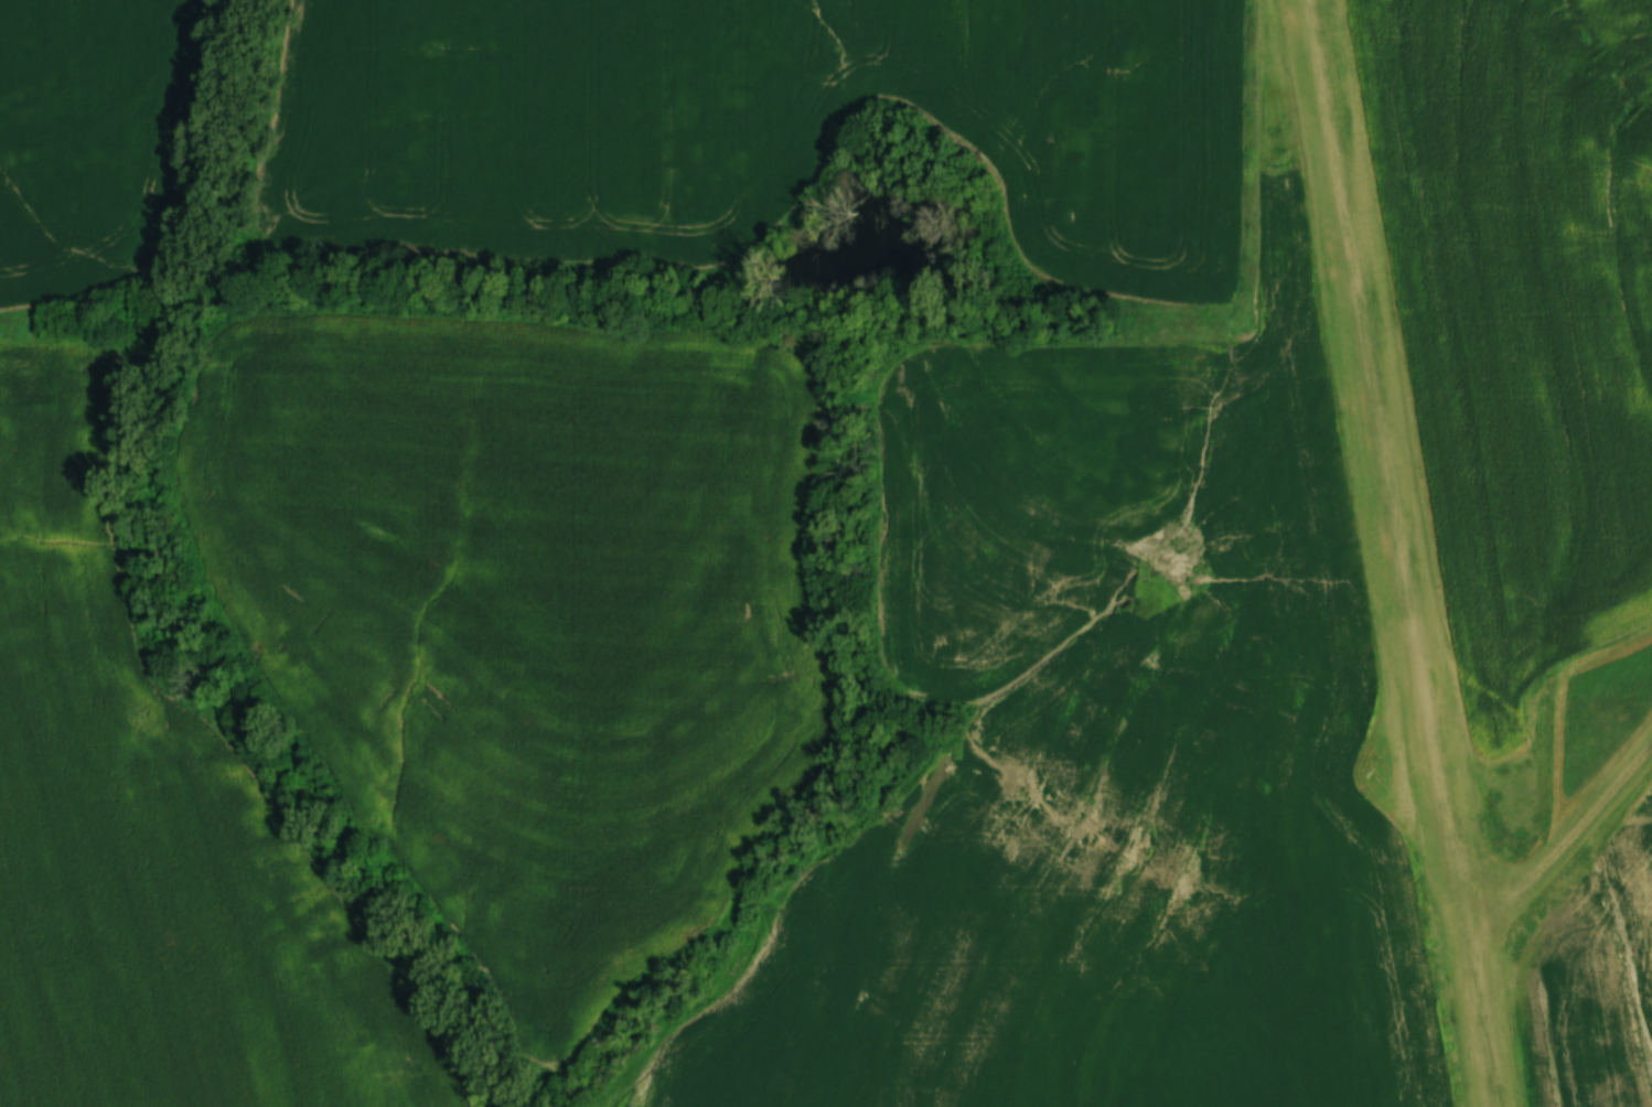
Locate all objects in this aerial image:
airport runway: (1409, 552)
airport taxiway: (1545, 686)

